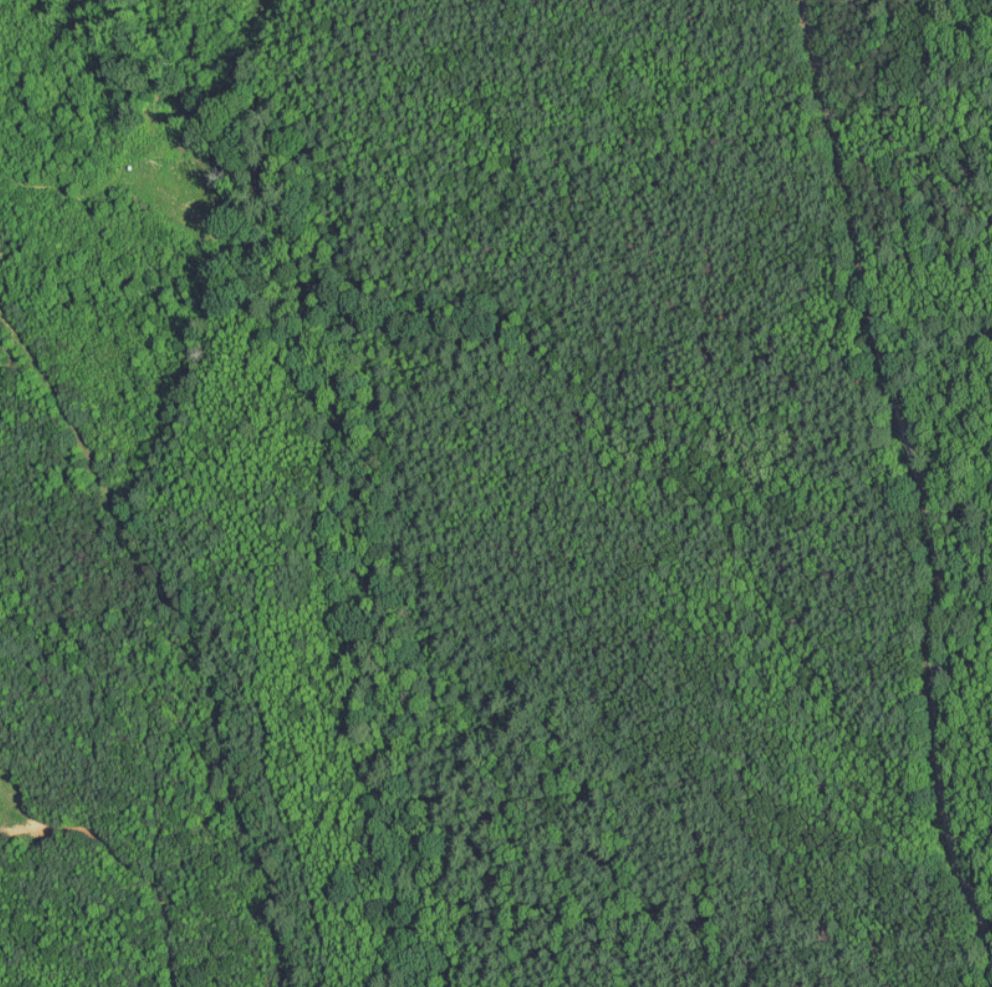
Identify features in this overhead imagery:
road: (919, 476)

